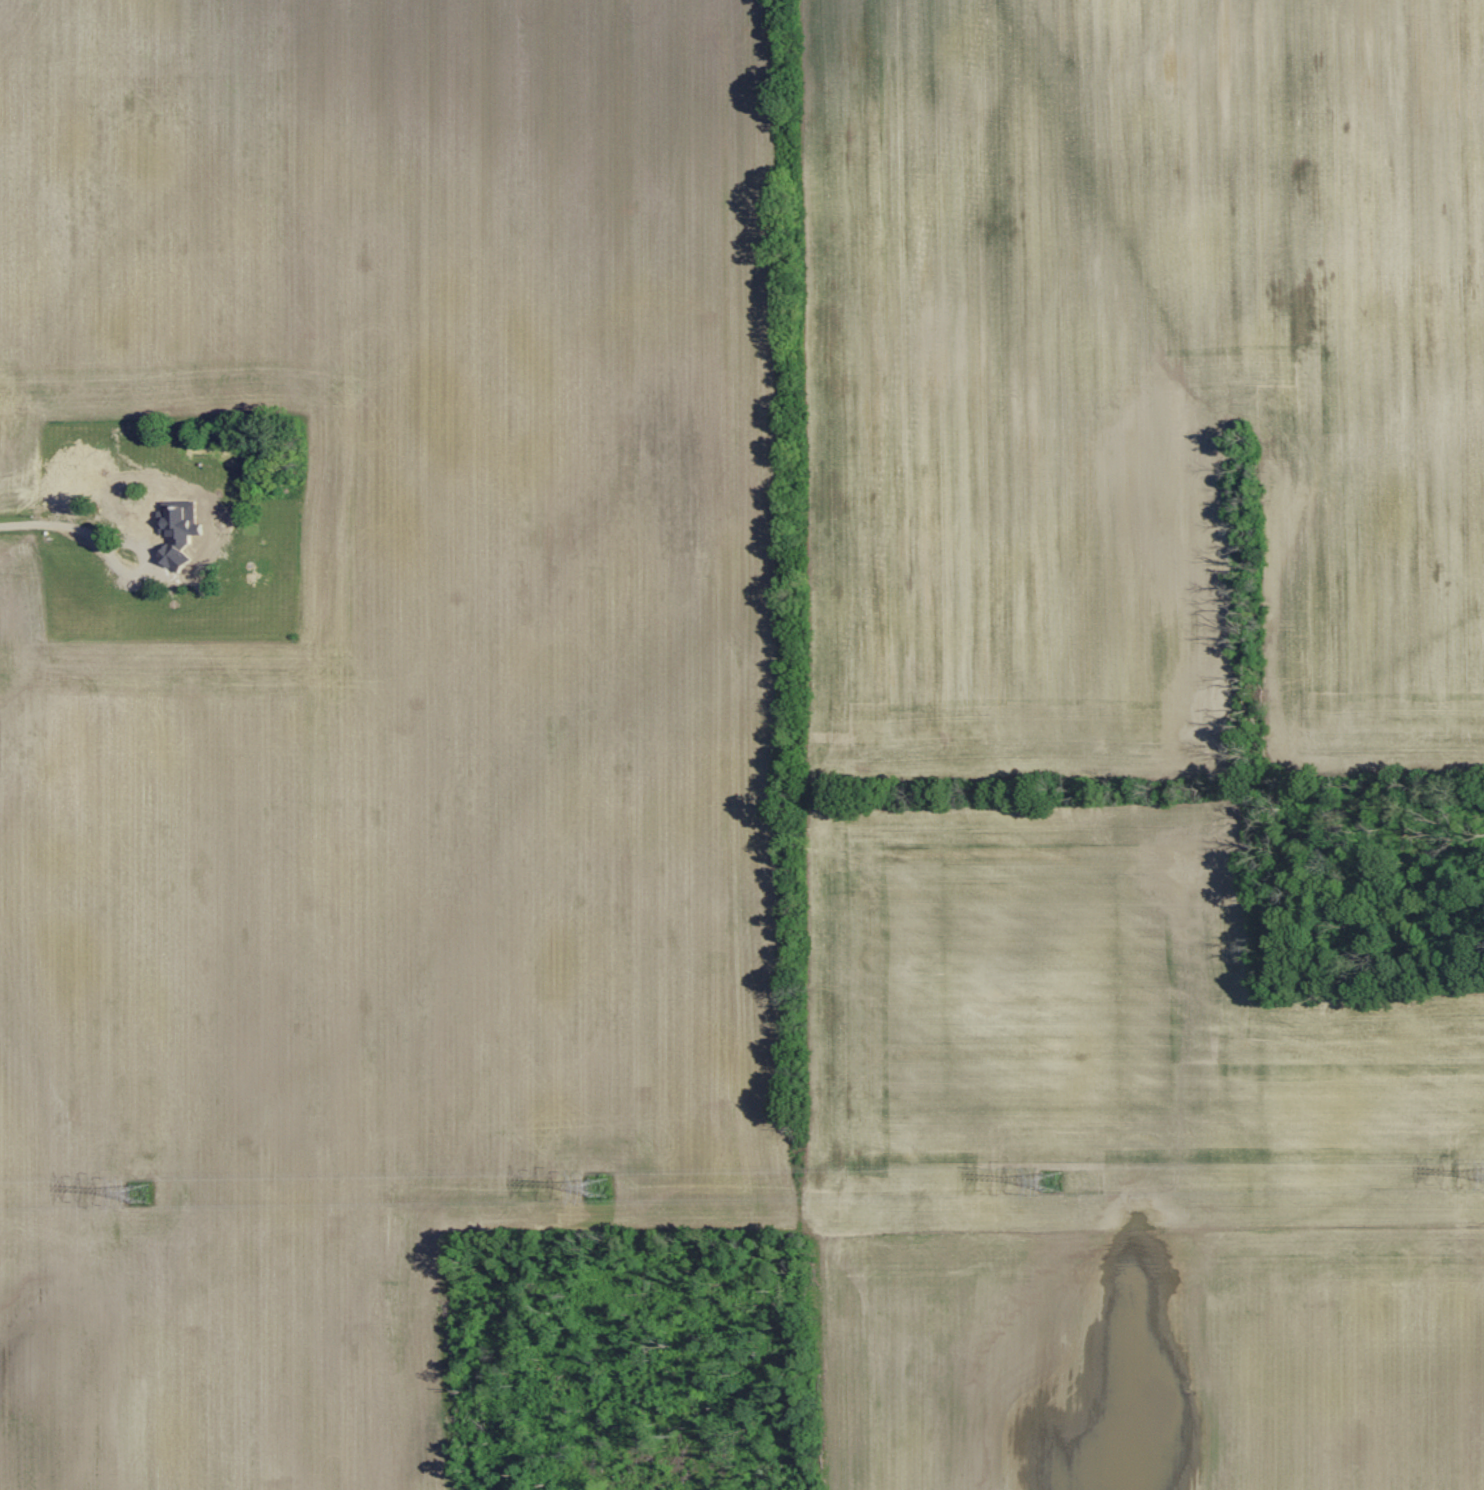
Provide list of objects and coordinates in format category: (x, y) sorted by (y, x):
road: (73, 528)
power tower: (1050, 1183)
power tower: (599, 1187)
power tower: (140, 1193)

